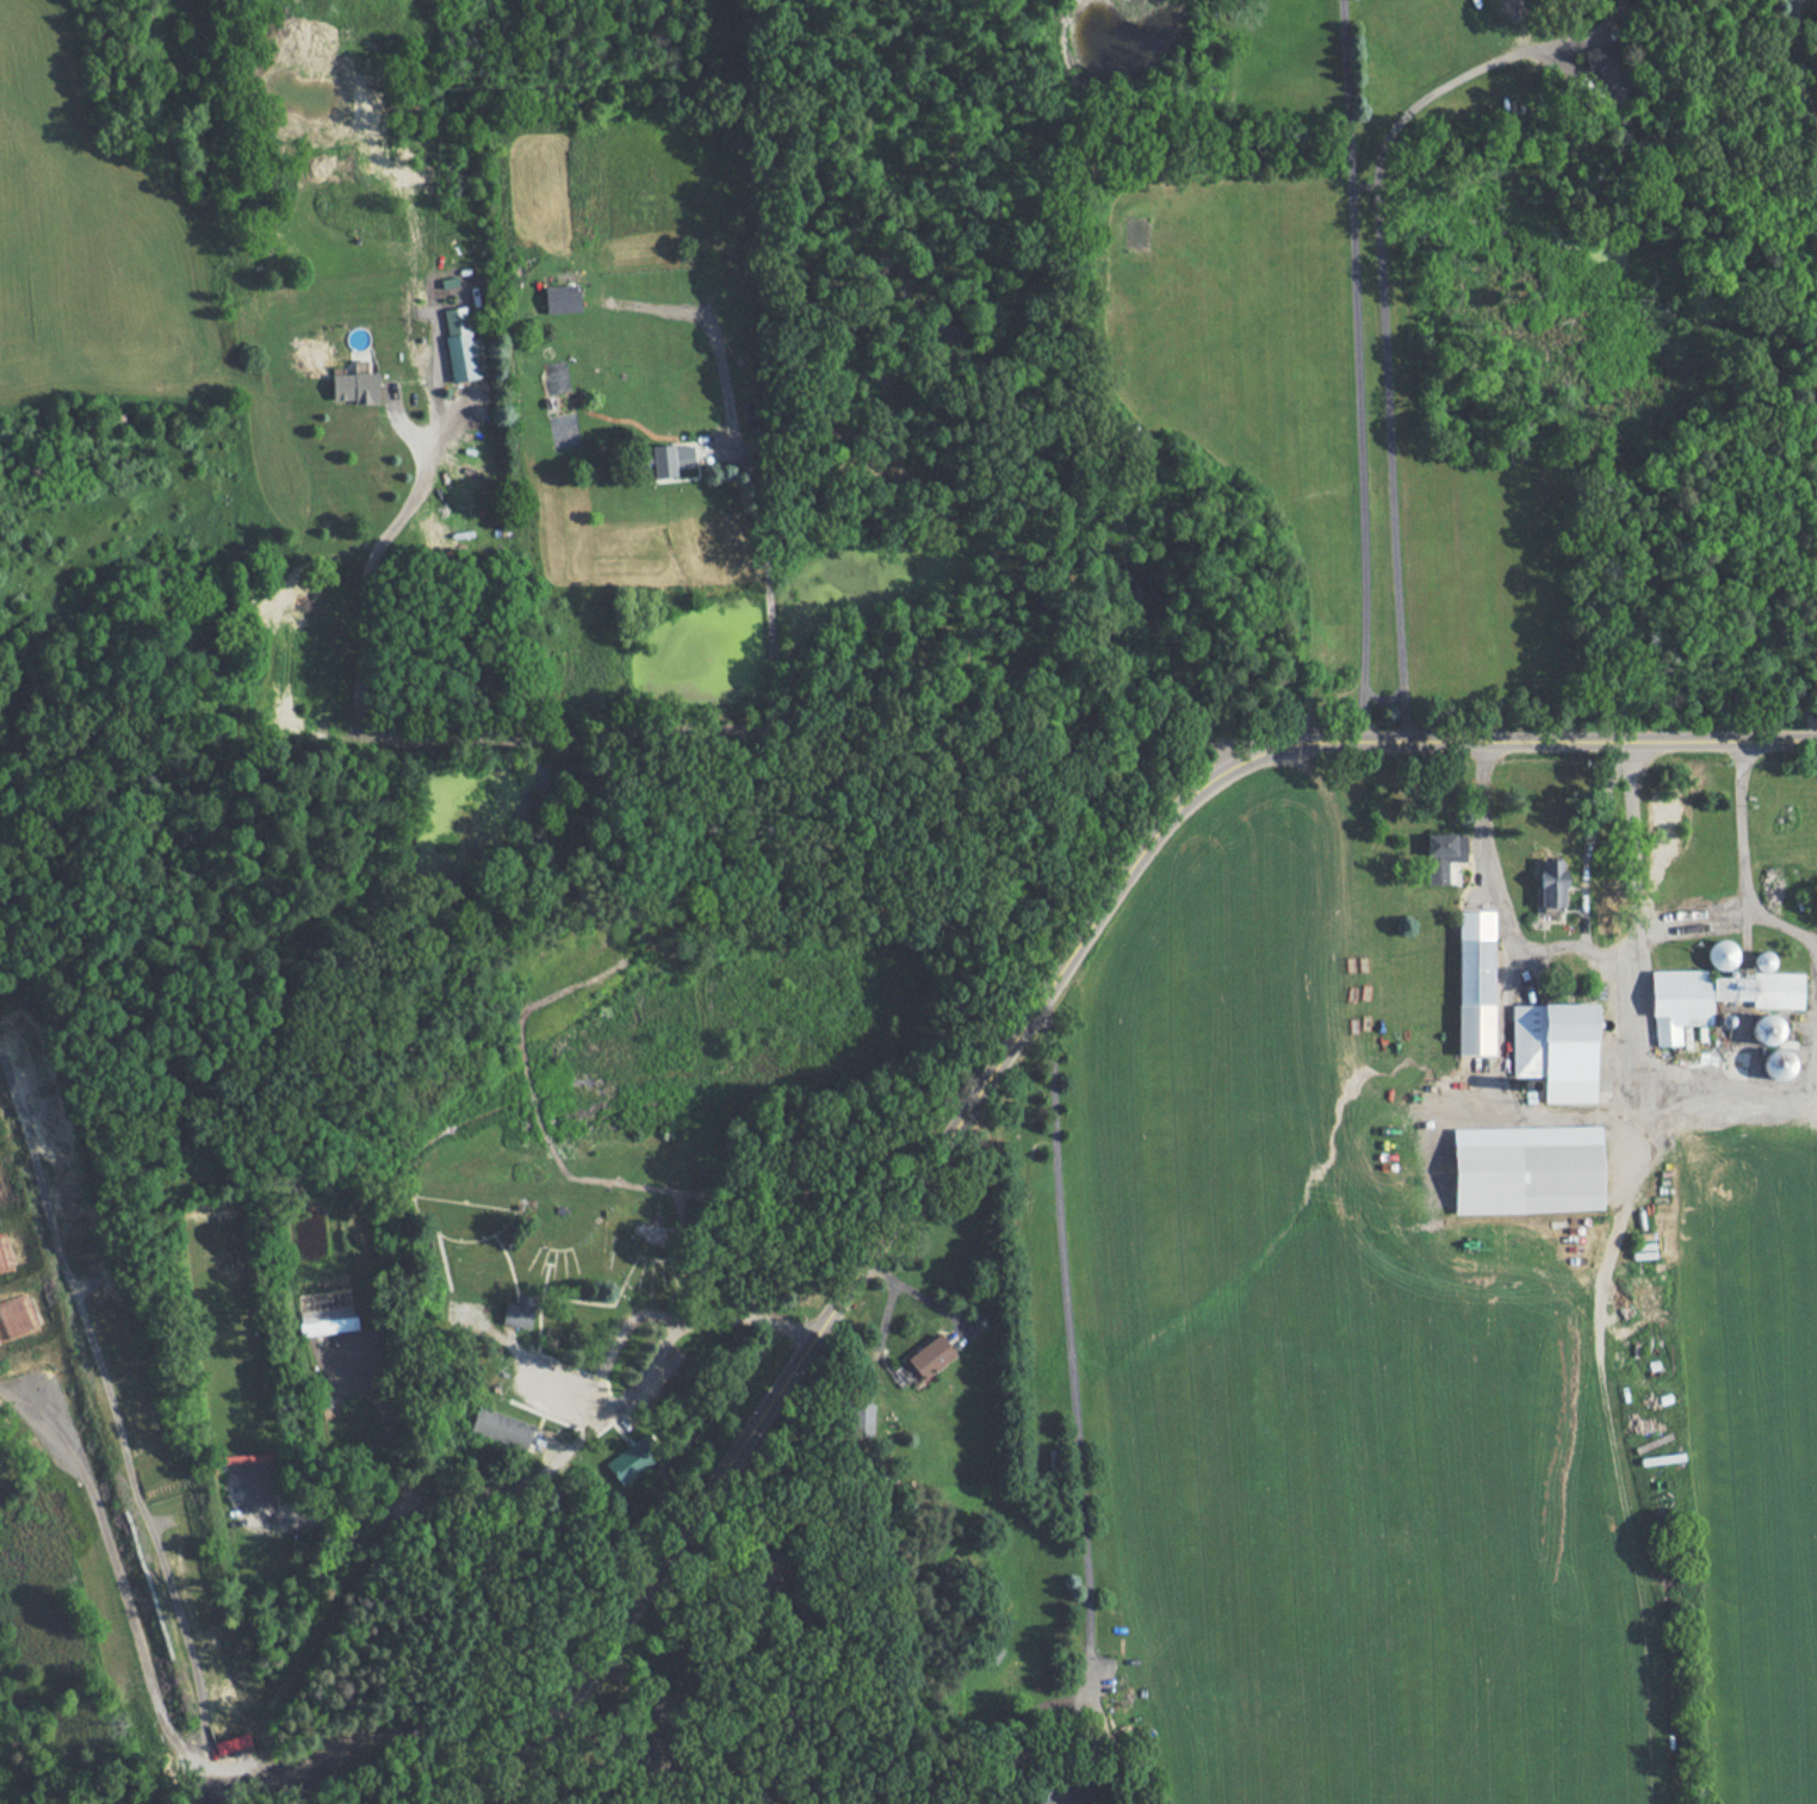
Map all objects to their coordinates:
road: (1802, 57)
building: (1610, 70)
road: (1359, 184)
building: (562, 297)
road: (1378, 299)
building: (461, 345)
road: (1354, 373)
building: (670, 458)
road: (739, 477)
road: (1787, 540)
road: (366, 570)
road: (1381, 695)
road: (781, 738)
road: (1585, 839)
road: (1630, 850)
building: (1441, 854)
road: (1740, 869)
building: (1550, 884)
road: (1693, 917)
road: (1627, 954)
building: (1720, 954)
building: (1474, 981)
building: (1712, 997)
building: (1765, 1028)
road: (1011, 1033)
building: (1555, 1048)
building: (1776, 1062)
building: (1526, 1168)
building: (517, 1310)
building: (929, 1356)
road: (1072, 1384)
building: (861, 1419)
building: (501, 1427)
building: (246, 1457)
building: (632, 1457)
road: (556, 1458)

